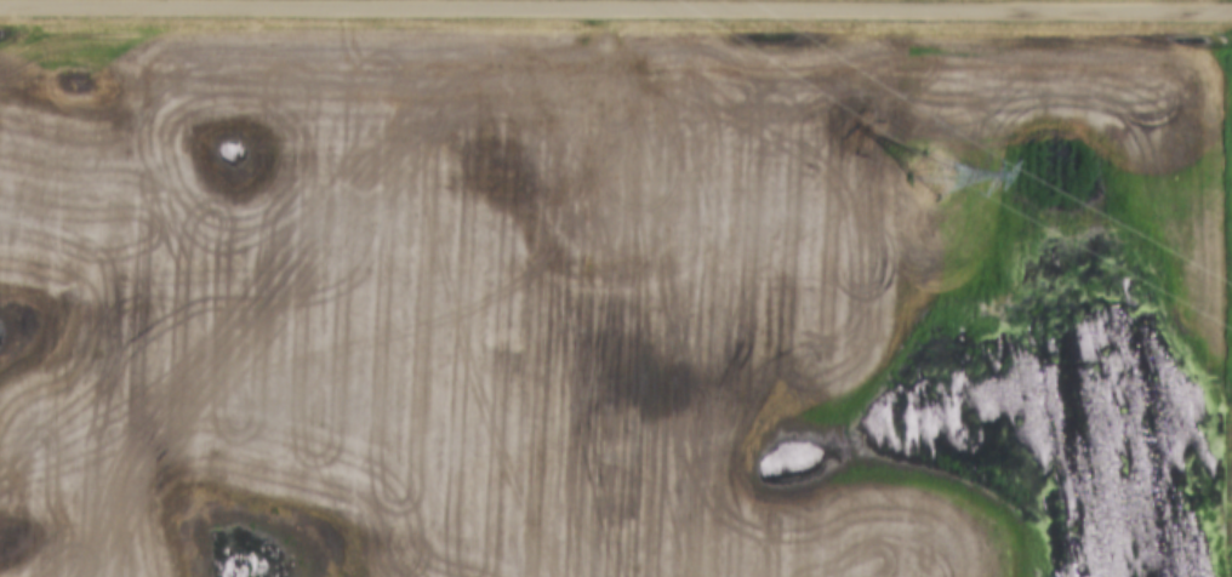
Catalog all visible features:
road: (616, 10)
power tower: (935, 175)

